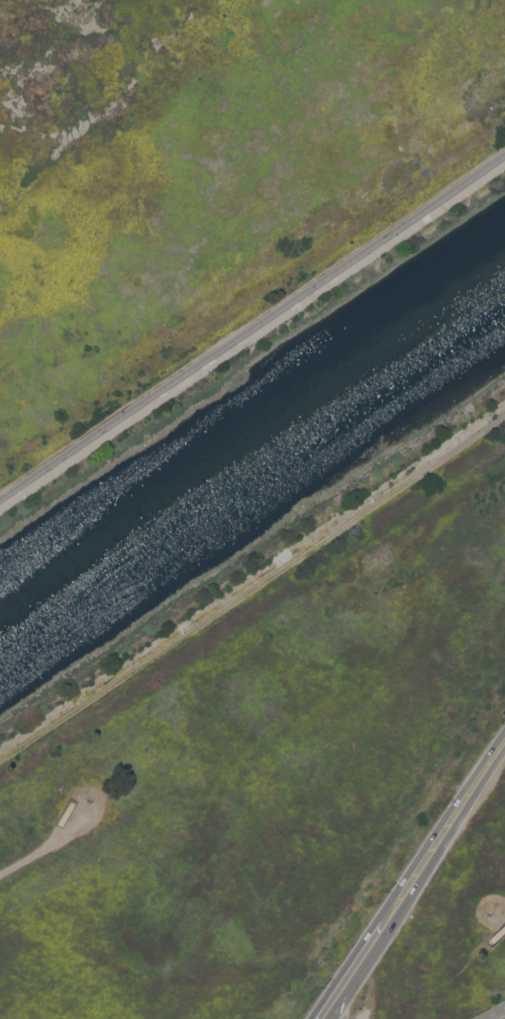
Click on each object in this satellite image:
road: (252, 335)
road: (253, 590)
road: (462, 803)
road: (64, 818)
road: (51, 846)
road: (382, 926)
road: (333, 1001)
road: (342, 1001)
road: (501, 1016)

